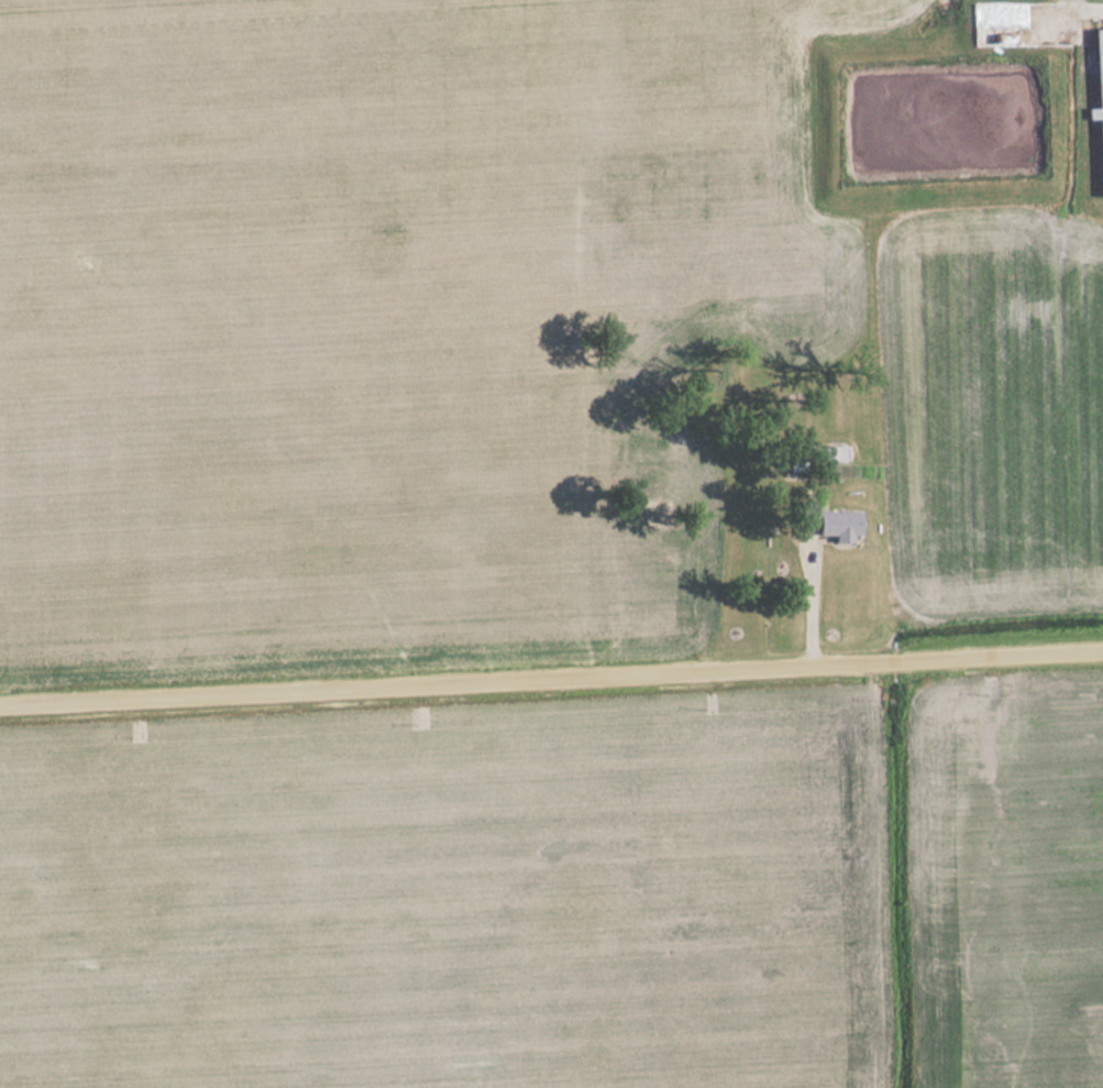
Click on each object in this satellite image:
building: (1099, 98)
building: (834, 523)
road: (551, 683)

